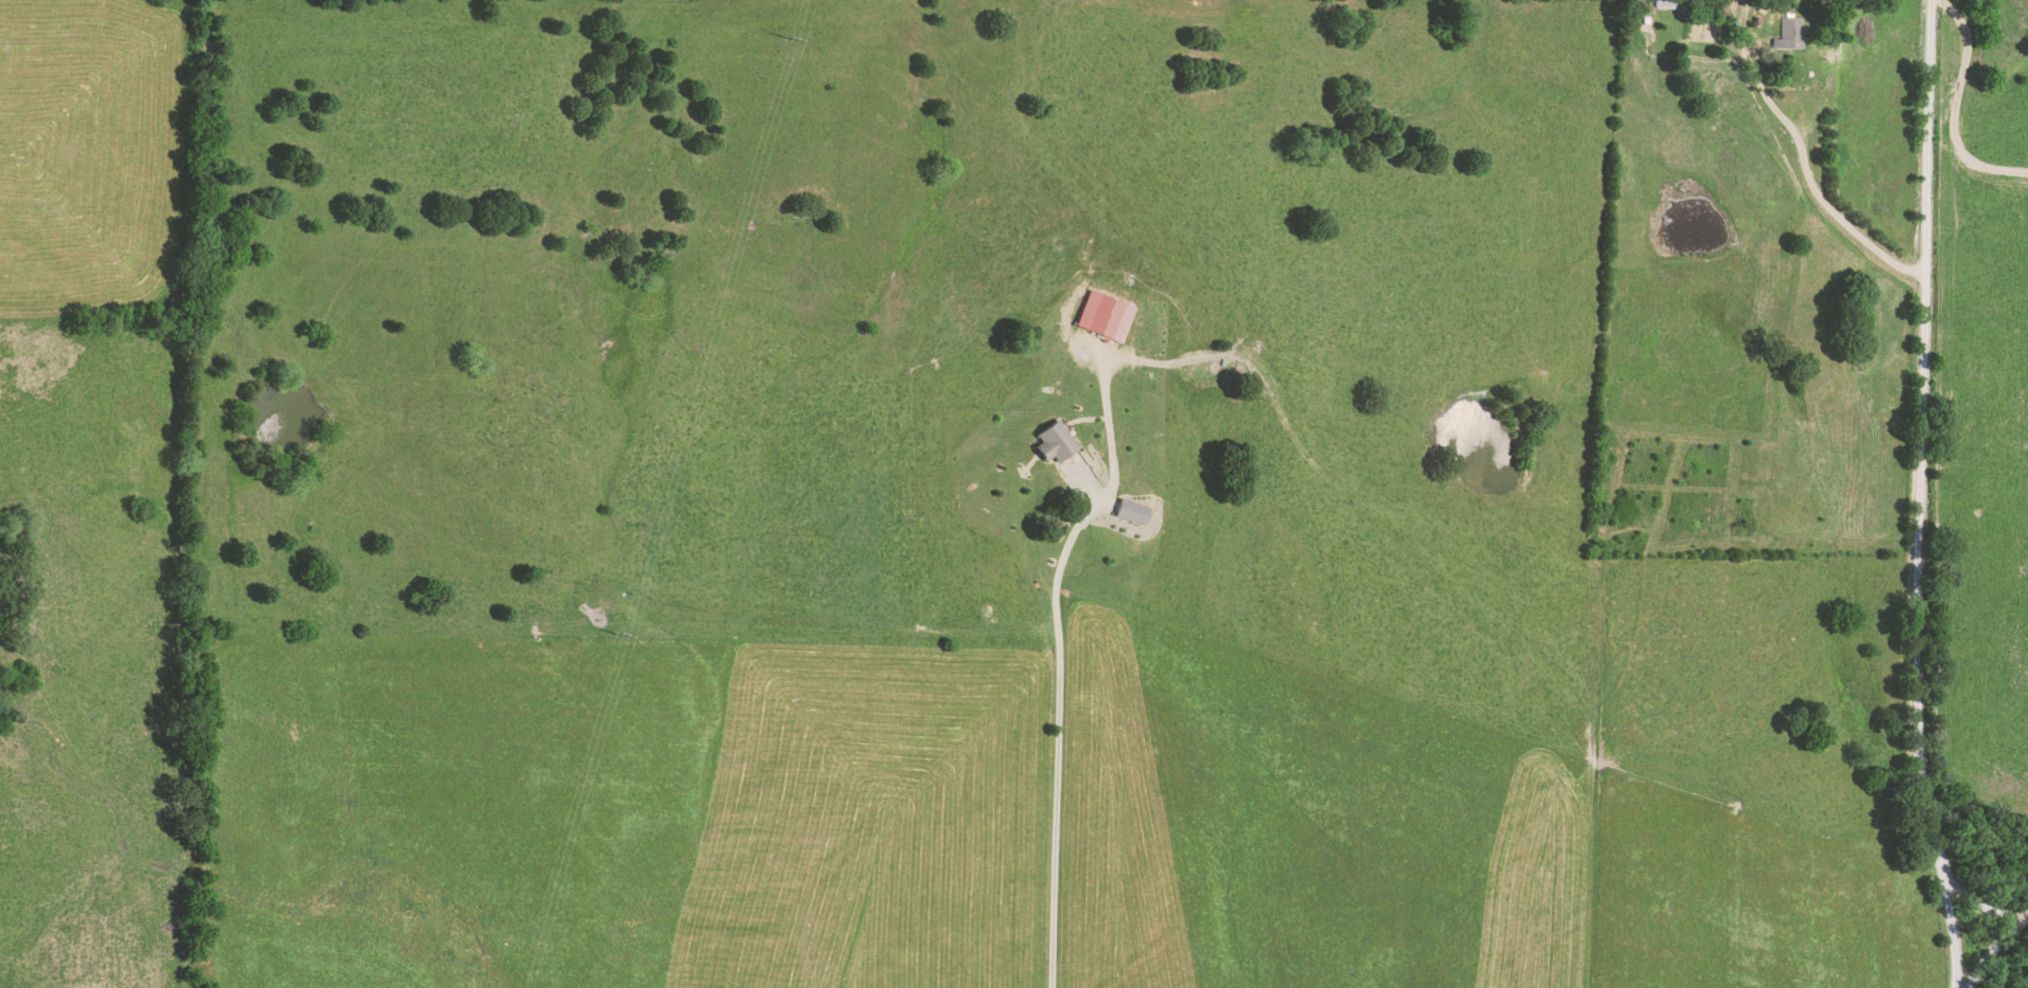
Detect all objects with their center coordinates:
building: (1789, 33)
building: (1104, 315)
building: (1052, 441)
road: (1925, 495)
building: (1129, 510)
road: (1975, 776)

